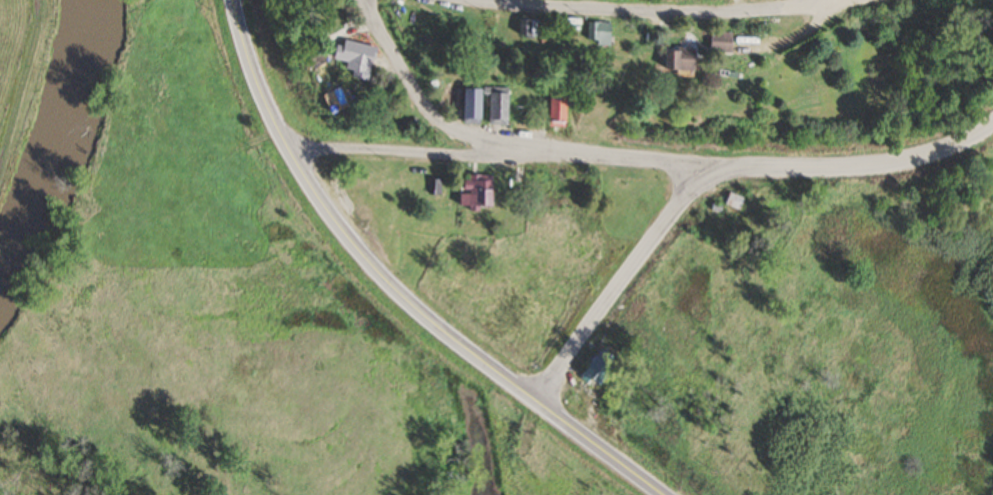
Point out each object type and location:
building: (309, 1)
road: (659, 12)
building: (526, 29)
building: (597, 35)
building: (719, 43)
building: (314, 58)
building: (351, 59)
building: (676, 62)
road: (412, 91)
building: (468, 107)
building: (495, 107)
building: (555, 110)
river: (58, 149)
road: (496, 156)
road: (711, 172)
building: (433, 187)
building: (477, 193)
building: (733, 202)
road: (392, 290)
building: (596, 368)

